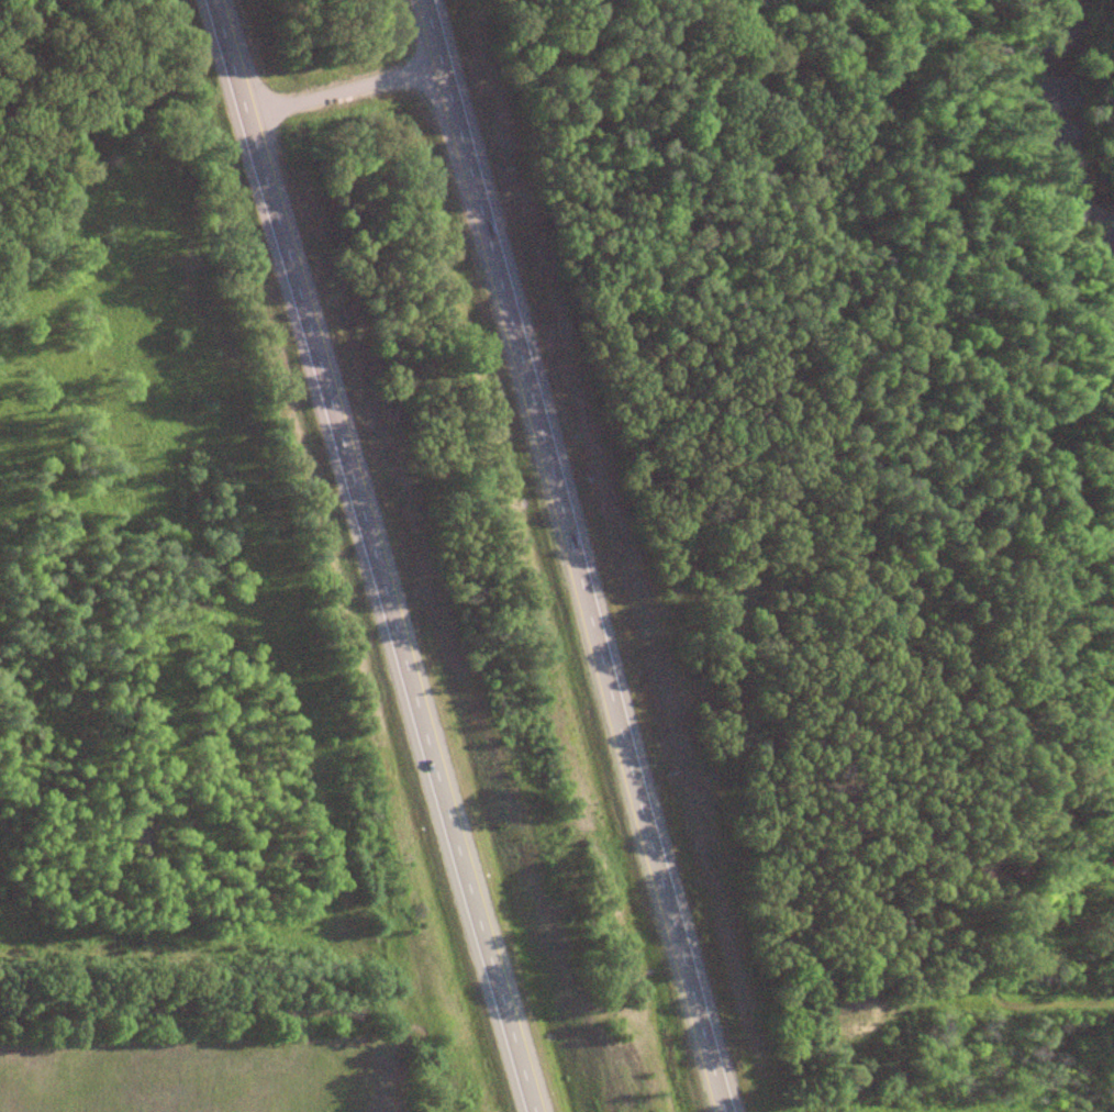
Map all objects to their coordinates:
road: (338, 97)
river: (1059, 121)
road: (571, 555)
road: (358, 556)
road: (171, 979)

